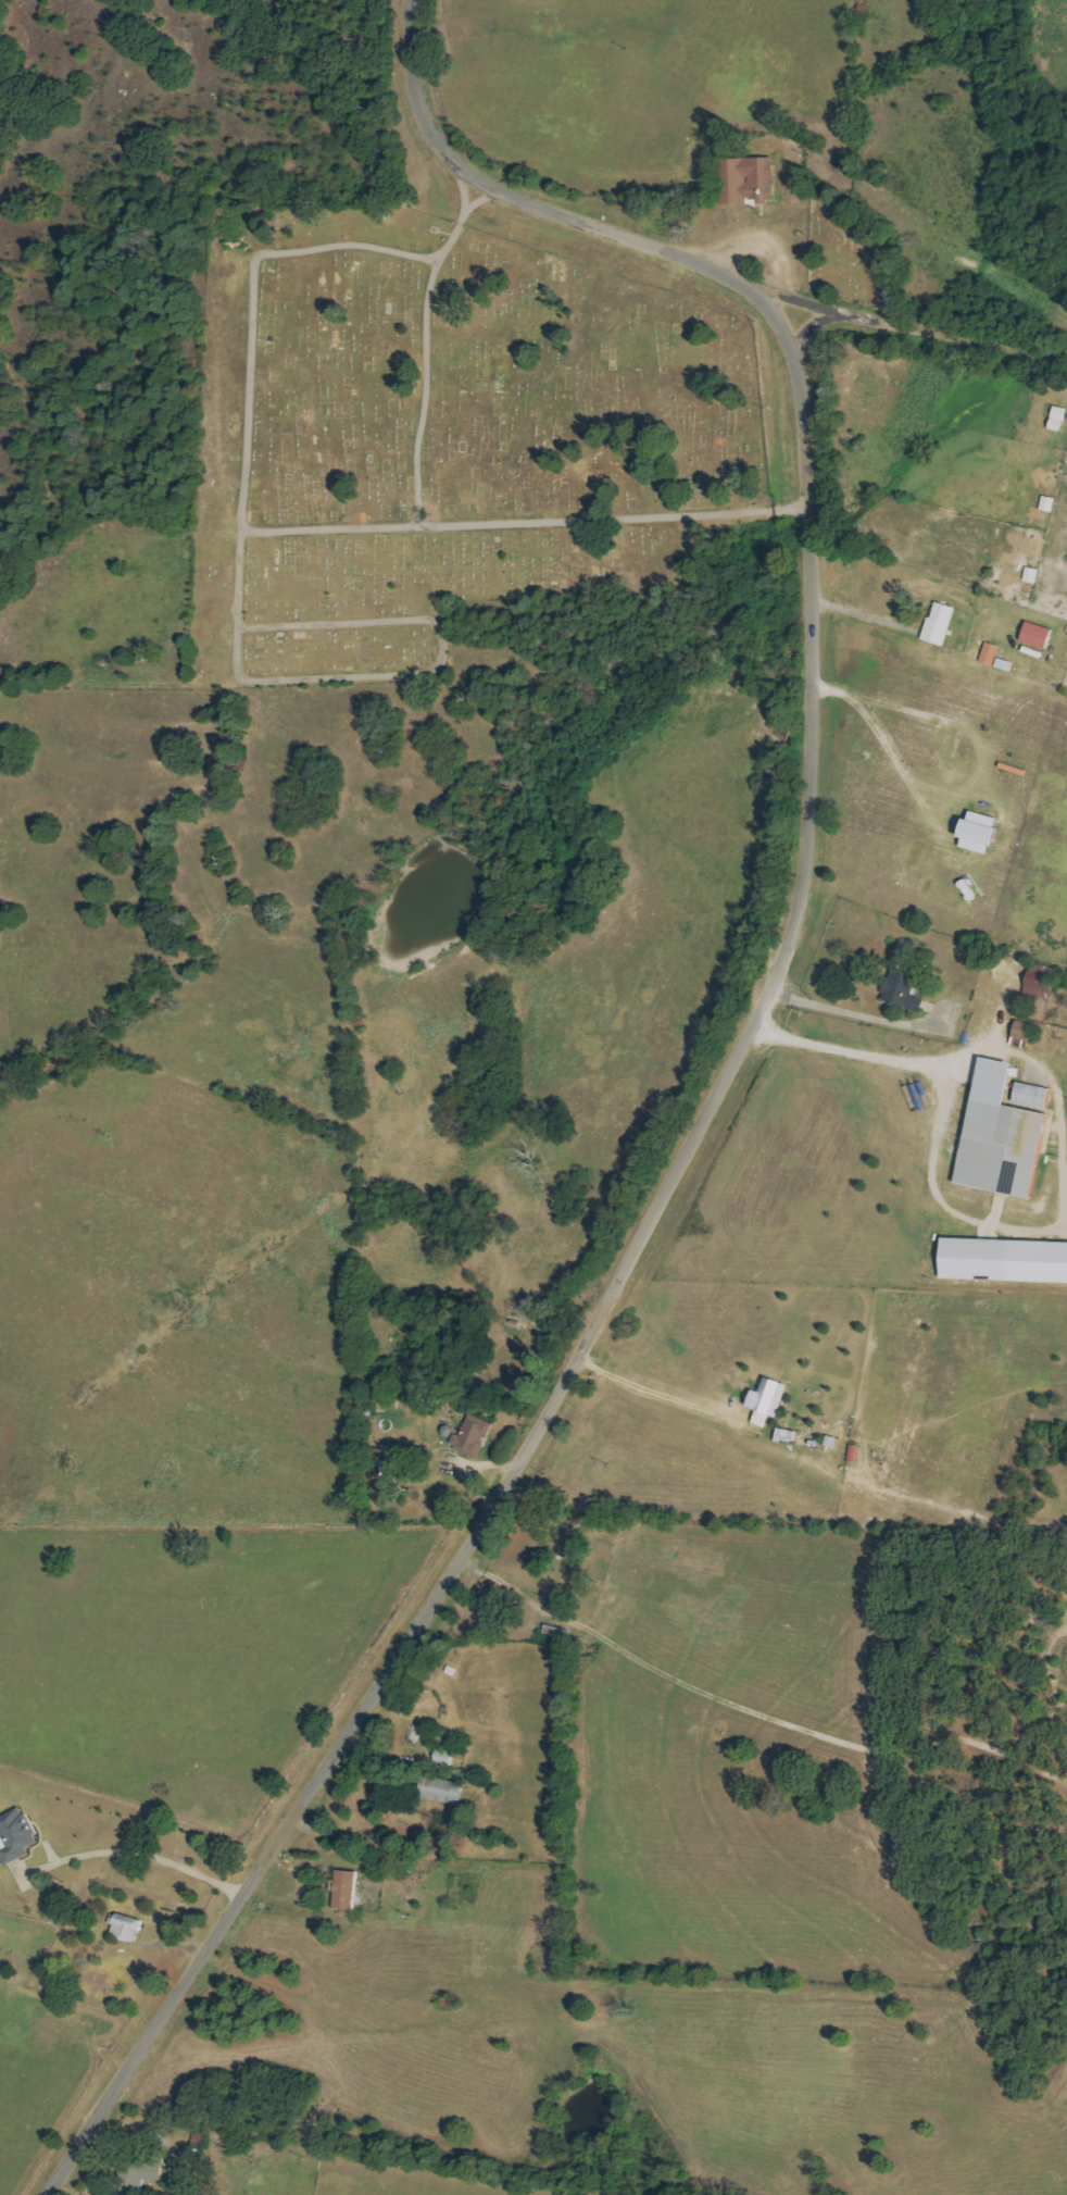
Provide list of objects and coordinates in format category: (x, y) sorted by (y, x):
power tower: (627, 48)
building: (753, 180)
road: (608, 232)
power tower: (961, 246)
road: (1002, 350)
park: (454, 453)
road: (529, 525)
road: (865, 615)
building: (941, 624)
building: (1038, 635)
building: (991, 653)
building: (1006, 664)
road: (955, 796)
building: (980, 832)
building: (1040, 985)
building: (903, 989)
road: (859, 1015)
building: (1022, 1034)
building: (1033, 1095)
road: (1058, 1126)
building: (1001, 1136)
building: (1005, 1260)
road: (603, 1304)
road: (663, 1390)
building: (767, 1396)
building: (474, 1436)
road: (756, 1709)
building: (443, 1791)
building: (16, 1836)
building: (346, 1890)
building: (126, 1926)

